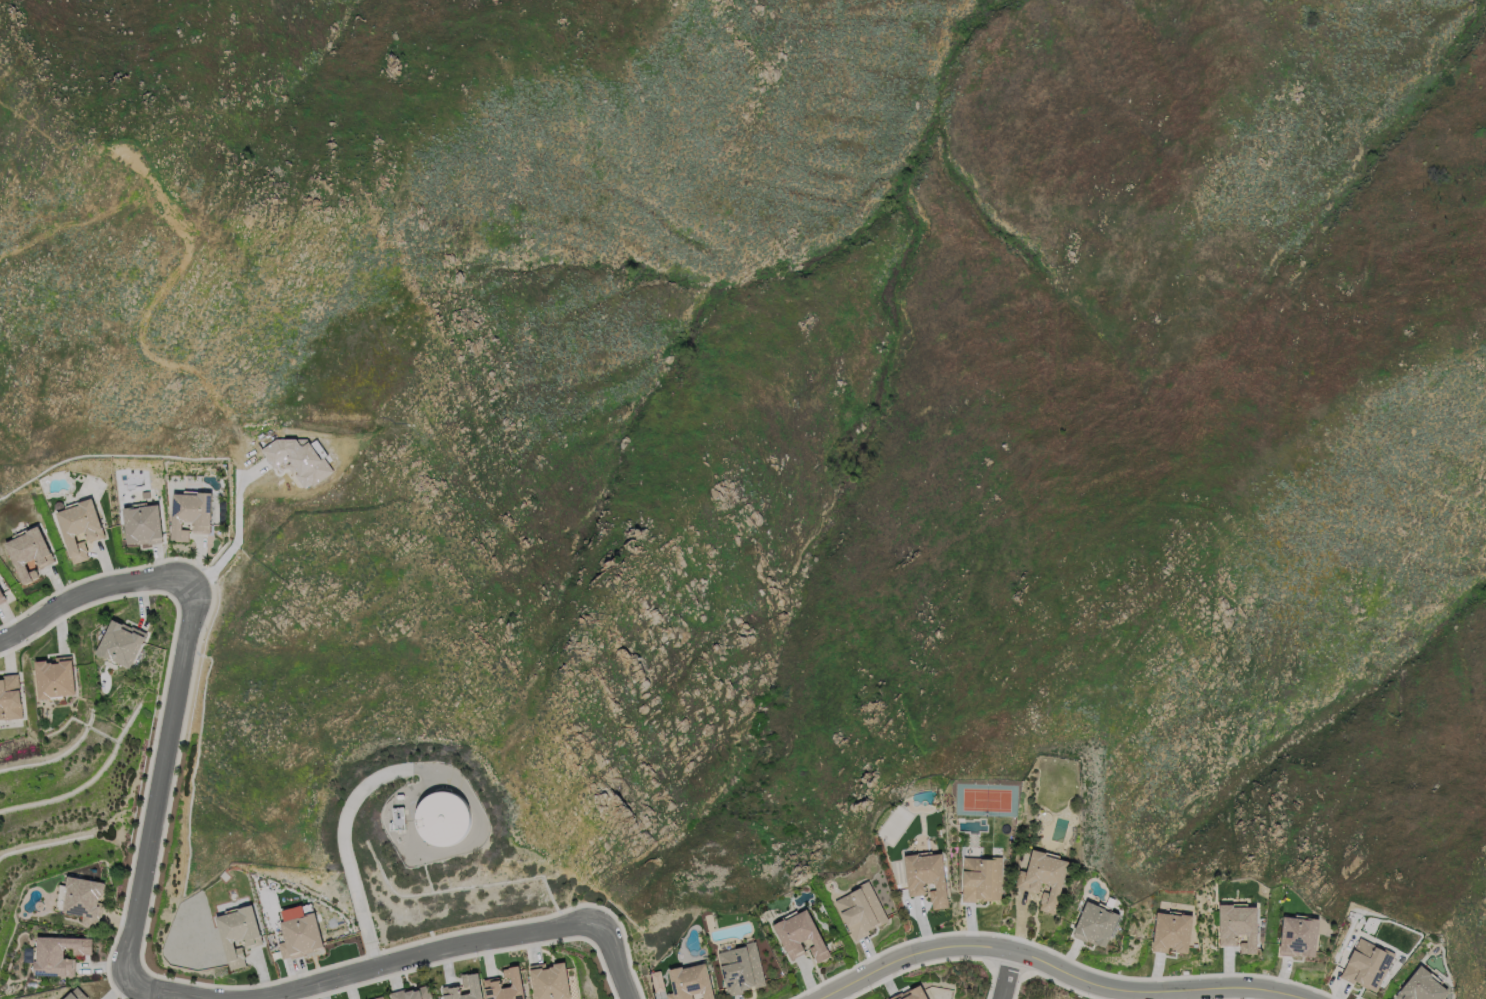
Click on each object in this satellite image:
building: (191, 514)
building: (143, 524)
road: (236, 526)
building: (80, 528)
building: (29, 554)
building: (1, 598)
building: (118, 641)
road: (183, 674)
building: (53, 677)
building: (9, 696)
building: (442, 818)
building: (397, 819)
building: (930, 877)
building: (982, 877)
building: (1045, 877)
building: (80, 899)
building: (863, 910)
building: (1097, 923)
building: (1240, 924)
building: (1174, 930)
building: (237, 934)
building: (1301, 934)
building: (298, 936)
building: (804, 936)
road: (469, 952)
building: (57, 955)
building: (1369, 963)
building: (742, 968)
road: (1056, 969)
road: (1007, 975)
building: (550, 981)
building: (656, 981)
building: (691, 982)
building: (492, 983)
building: (471, 986)
building: (1425, 986)
road: (176, 988)
building: (414, 993)
building: (76, 994)
building: (915, 994)
building: (381, 998)

